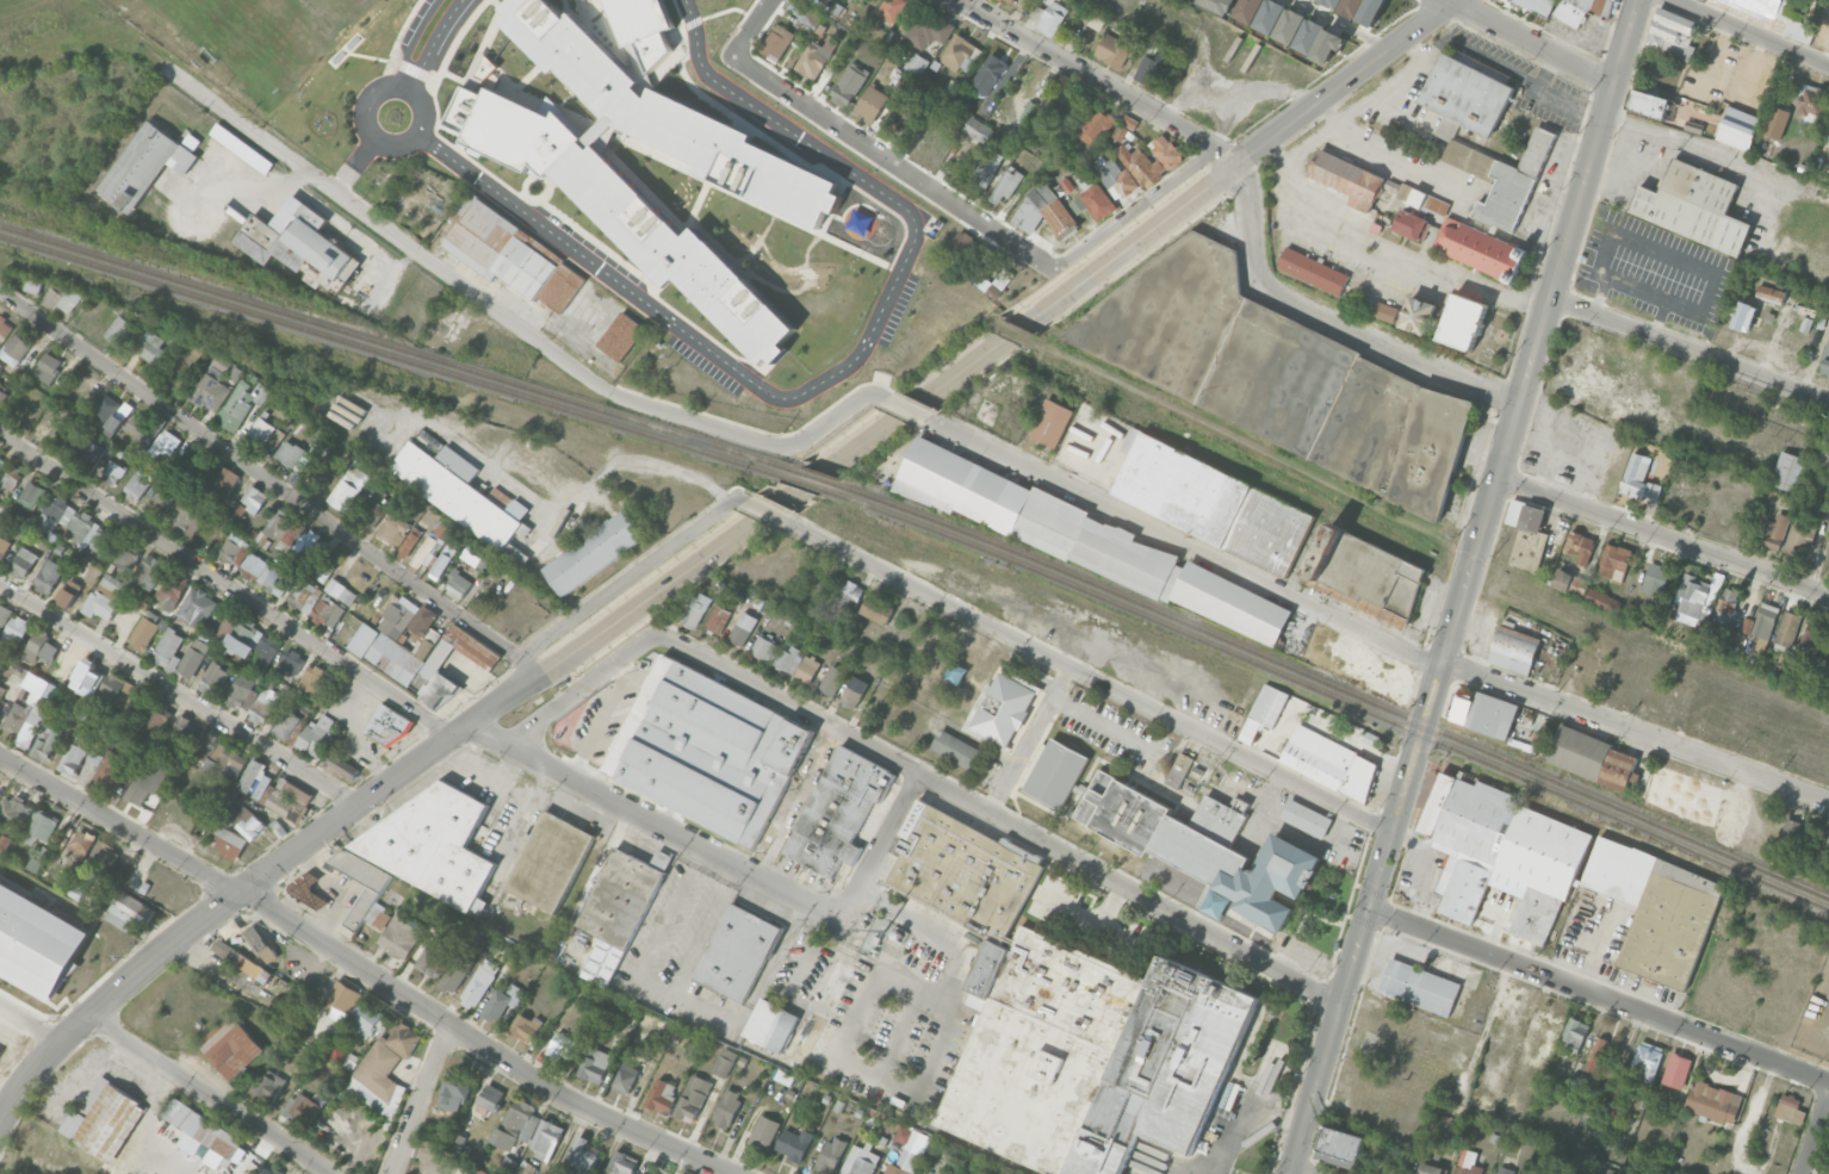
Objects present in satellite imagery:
building: (1028, 0)
building: (1006, 1)
building: (1331, 2)
building: (1219, 5)
building: (1538, 6)
building: (1351, 7)
building: (892, 10)
building: (1247, 10)
building: (1582, 10)
building: (1372, 12)
building: (1269, 15)
building: (1781, 17)
building: (1052, 18)
building: (1289, 25)
road: (1338, 25)
road: (752, 26)
building: (929, 30)
building: (1672, 33)
road: (1749, 33)
building: (1308, 36)
park: (265, 38)
road: (411, 41)
road: (1531, 41)
building: (776, 42)
road: (433, 43)
building: (1328, 45)
building: (1114, 50)
building: (961, 54)
road: (1825, 55)
building: (816, 58)
building: (916, 63)
building: (993, 67)
building: (1152, 68)
road: (1098, 80)
building: (850, 83)
road: (409, 91)
building: (1467, 94)
building: (1811, 101)
road: (1365, 103)
building: (1648, 103)
building: (872, 104)
building: (1062, 104)
building: (909, 112)
building: (1775, 123)
building: (1096, 126)
building: (1124, 126)
building: (1446, 128)
building: (1738, 128)
building: (978, 130)
building: (924, 136)
building: (1828, 143)
building: (942, 147)
building: (242, 148)
road: (1377, 151)
road: (1635, 151)
building: (1136, 160)
building: (139, 166)
road: (353, 166)
building: (984, 170)
building: (1345, 178)
building: (1117, 179)
building: (1502, 179)
building: (1006, 184)
building: (782, 187)
building: (1064, 187)
building: (1420, 198)
building: (1093, 199)
building: (1693, 206)
building: (1042, 211)
road: (976, 216)
building: (1410, 224)
building: (297, 242)
building: (965, 244)
building: (1480, 249)
building: (513, 256)
road: (1381, 256)
building: (1313, 269)
parking lot: (1643, 275)
building: (984, 282)
building: (1000, 284)
building: (33, 285)
building: (1772, 292)
building: (62, 297)
building: (1384, 311)
building: (1418, 315)
building: (1743, 316)
road: (504, 318)
road: (1334, 318)
building: (1462, 321)
building: (4, 329)
building: (118, 329)
building: (621, 336)
railway: (395, 344)
building: (151, 347)
building: (15, 349)
road: (1689, 349)
railway: (390, 354)
building: (1825, 361)
building: (48, 367)
building: (1272, 372)
road: (835, 373)
building: (213, 383)
building: (4, 392)
building: (241, 403)
road: (903, 409)
building: (107, 414)
building: (1050, 421)
building: (43, 427)
building: (144, 430)
building: (263, 434)
building: (165, 443)
building: (1825, 446)
parking lot: (1565, 452)
building: (92, 453)
building: (0, 454)
building: (292, 455)
road: (640, 460)
building: (1790, 471)
building: (112, 473)
railway: (812, 476)
building: (10, 478)
building: (1639, 478)
building: (223, 482)
road: (272, 483)
railway: (802, 483)
building: (963, 484)
building: (138, 485)
building: (348, 487)
building: (464, 495)
building: (30, 496)
building: (254, 498)
building: (1214, 503)
building: (159, 504)
building: (1762, 508)
building: (374, 509)
road: (765, 510)
building: (56, 514)
building: (1, 518)
building: (186, 518)
building: (395, 527)
building: (274, 529)
building: (1773, 532)
building: (92, 533)
road: (1663, 535)
building: (1529, 540)
road: (1183, 541)
building: (1798, 541)
building: (409, 542)
building: (432, 545)
building: (1097, 545)
building: (130, 546)
building: (1580, 546)
building: (5, 547)
road: (714, 547)
building: (234, 549)
building: (594, 551)
building: (306, 553)
building: (478, 555)
building: (124, 559)
building: (1613, 559)
building: (442, 561)
building: (23, 563)
building: (150, 572)
road: (631, 572)
building: (1366, 572)
building: (93, 573)
building: (268, 574)
building: (49, 576)
building: (1655, 579)
building: (1570, 583)
road: (227, 584)
building: (459, 585)
road: (1463, 586)
building: (173, 588)
building: (341, 591)
building: (68, 592)
building: (849, 592)
building: (105, 596)
building: (304, 596)
building: (1695, 600)
building: (1602, 601)
building: (1232, 603)
building: (1725, 605)
building: (197, 607)
building: (876, 609)
building: (696, 610)
building: (327, 613)
building: (4, 615)
building: (718, 619)
building: (1765, 620)
road: (1583, 625)
building: (1747, 625)
building: (742, 628)
building: (1787, 628)
building: (148, 629)
building: (15, 631)
building: (254, 642)
building: (39, 647)
building: (168, 648)
building: (764, 648)
building: (1809, 650)
building: (1515, 651)
building: (194, 657)
building: (788, 658)
building: (291, 660)
building: (1362, 664)
building: (807, 669)
road: (1090, 676)
building: (215, 677)
building: (87, 678)
building: (312, 678)
building: (832, 679)
railway: (1333, 683)
building: (1828, 683)
road: (583, 685)
park: (1670, 687)
building: (1, 690)
building: (242, 691)
railway: (1328, 694)
building: (122, 695)
building: (851, 696)
road: (178, 697)
building: (0, 702)
building: (263, 704)
road: (793, 704)
building: (1002, 708)
building: (31, 709)
building: (1263, 712)
building: (1483, 713)
building: (156, 720)
building: (286, 721)
building: (386, 723)
building: (180, 731)
road: (1635, 732)
building: (316, 735)
road: (1028, 738)
building: (46, 743)
building: (210, 746)
building: (956, 748)
building: (707, 750)
building: (76, 751)
building: (95, 757)
building: (1592, 758)
building: (232, 763)
building: (1329, 763)
building: (343, 765)
building: (111, 769)
building: (1179, 770)
building: (254, 778)
building: (148, 782)
building: (294, 790)
building: (283, 802)
building: (14, 810)
building: (837, 812)
building: (1306, 818)
building: (243, 821)
road: (656, 825)
building: (39, 827)
building: (1179, 834)
building: (1786, 839)
building: (80, 840)
building: (1809, 840)
building: (228, 841)
building: (432, 844)
road: (882, 849)
building: (1825, 849)
building: (1501, 853)
building: (103, 856)
building: (550, 861)
road: (1427, 868)
building: (963, 870)
building: (81, 883)
building: (365, 889)
road: (1130, 889)
building: (309, 890)
traffic signals: (238, 893)
traffic signals: (1370, 907)
building: (1655, 908)
building: (619, 909)
building: (130, 912)
road: (658, 928)
road: (703, 930)
road: (1403, 936)
building: (399, 937)
building: (37, 942)
road: (1371, 942)
building: (261, 945)
road: (1391, 946)
road: (806, 948)
building: (737, 952)
building: (433, 957)
building: (243, 961)
road: (366, 968)
building: (455, 974)
building: (836, 982)
building: (479, 983)
building: (1418, 987)
road: (757, 992)
road: (1599, 994)
building: (341, 1000)
building: (502, 1001)
parking lot: (1509, 1004)
building: (293, 1012)
building: (365, 1018)
road: (31, 1021)
building: (770, 1025)
building: (525, 1026)
building: (808, 1033)
building: (1543, 1035)
building: (1574, 1035)
building: (564, 1046)
building: (232, 1048)
building: (1596, 1052)
building: (1090, 1056)
building: (343, 1058)
building: (1647, 1061)
building: (725, 1062)
building: (595, 1064)
building: (383, 1070)
building: (1676, 1070)
building: (625, 1079)
building: (271, 1086)
road: (920, 1089)
building: (454, 1092)
road: (209, 1094)
road: (418, 1097)
building: (662, 1097)
building: (491, 1098)
building: (693, 1098)
building: (1483, 1101)
building: (1713, 1101)
building: (727, 1107)
building: (1790, 1108)
building: (302, 1110)
road: (1242, 1114)
building: (105, 1122)
building: (517, 1124)
building: (1440, 1129)
building: (200, 1130)
building: (764, 1131)
road: (1815, 1133)
building: (904, 1135)
building: (546, 1138)
building: (794, 1143)
road: (966, 1143)
building: (1340, 1147)
building: (831, 1154)
building: (582, 1157)
building: (860, 1160)
building: (622, 1163)
building: (904, 1163)
building: (1467, 1163)
building: (525, 1168)
road: (1302, 1169)
building: (1430, 1169)
building: (1501, 1169)
building: (269, 1172)
building: (469, 1173)
building: (645, 1173)
building: (875, 1173)

